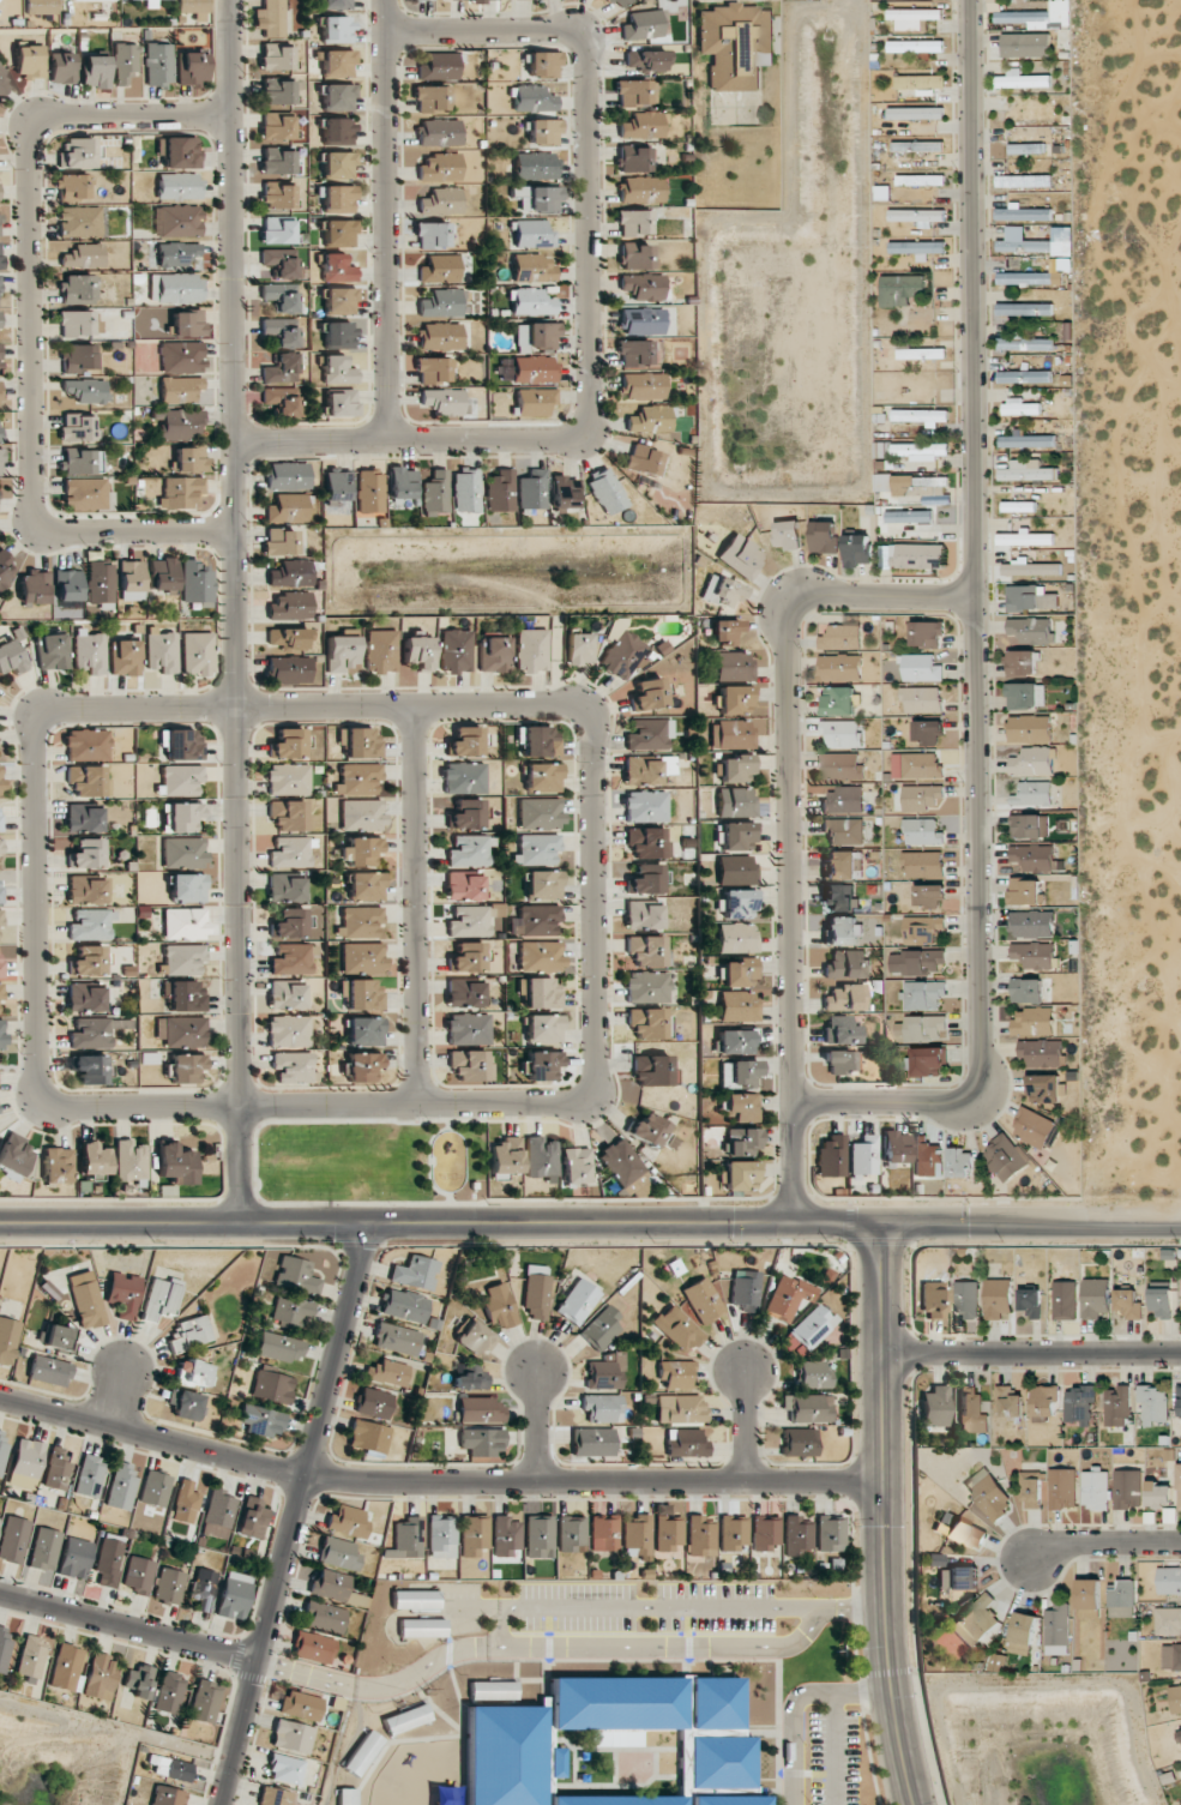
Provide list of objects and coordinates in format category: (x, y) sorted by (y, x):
building: (92, 0)
building: (453, 0)
building: (483, 0)
building: (617, 2)
building: (151, 4)
building: (337, 4)
building: (40, 6)
building: (193, 6)
building: (912, 17)
building: (1040, 17)
building: (270, 18)
building: (643, 25)
building: (337, 30)
road: (487, 31)
building: (736, 44)
building: (1025, 44)
building: (915, 46)
building: (276, 58)
building: (645, 60)
building: (30, 61)
building: (126, 62)
building: (337, 64)
building: (158, 65)
building: (543, 65)
building: (439, 66)
building: (192, 67)
building: (62, 68)
building: (95, 71)
building: (4, 78)
building: (1022, 79)
building: (920, 82)
building: (276, 91)
building: (635, 92)
building: (337, 97)
building: (432, 98)
building: (534, 98)
building: (916, 113)
road: (132, 119)
building: (641, 126)
building: (276, 127)
building: (337, 131)
building: (439, 132)
building: (543, 132)
building: (917, 146)
building: (1026, 148)
building: (179, 151)
building: (77, 154)
building: (635, 158)
building: (277, 162)
building: (338, 166)
building: (535, 166)
building: (439, 167)
building: (920, 180)
building: (1024, 181)
building: (179, 186)
building: (73, 187)
building: (640, 189)
building: (277, 195)
building: (338, 199)
building: (542, 199)
building: (441, 201)
building: (1023, 213)
building: (917, 216)
road: (386, 219)
building: (177, 221)
building: (79, 222)
building: (633, 222)
building: (278, 230)
building: (339, 233)
building: (532, 234)
road: (590, 234)
building: (432, 235)
building: (1036, 241)
building: (918, 248)
building: (179, 254)
building: (83, 255)
building: (0, 257)
building: (637, 257)
building: (532, 267)
building: (337, 269)
building: (440, 269)
building: (1029, 278)
building: (643, 287)
building: (176, 288)
building: (77, 289)
building: (902, 289)
building: (279, 299)
building: (341, 300)
building: (531, 302)
building: (442, 303)
building: (1024, 309)
building: (0, 320)
building: (641, 321)
building: (78, 323)
building: (187, 323)
building: (282, 332)
building: (339, 336)
building: (441, 336)
building: (536, 336)
building: (1025, 344)
building: (0, 351)
building: (634, 353)
building: (921, 354)
building: (78, 357)
building: (182, 357)
building: (281, 368)
building: (433, 369)
building: (534, 369)
building: (338, 371)
building: (1024, 377)
building: (643, 386)
building: (85, 390)
building: (180, 390)
building: (281, 401)
building: (442, 401)
building: (0, 402)
building: (536, 402)
building: (342, 403)
building: (1020, 407)
building: (921, 416)
building: (651, 419)
building: (179, 423)
road: (31, 425)
building: (77, 428)
building: (0, 434)
road: (489, 439)
road: (311, 441)
building: (1028, 441)
building: (189, 458)
building: (643, 459)
building: (1, 462)
building: (78, 462)
building: (1026, 471)
building: (288, 476)
building: (400, 483)
building: (336, 485)
building: (912, 485)
building: (532, 489)
building: (370, 491)
building: (466, 491)
building: (500, 491)
building: (180, 492)
building: (607, 492)
building: (435, 493)
building: (565, 493)
building: (84, 494)
building: (1018, 506)
building: (288, 507)
building: (910, 516)
building: (788, 534)
building: (824, 536)
building: (1025, 539)
building: (279, 541)
building: (857, 549)
building: (740, 555)
building: (918, 555)
building: (5, 567)
building: (1030, 568)
building: (289, 573)
building: (163, 574)
building: (131, 580)
building: (100, 582)
building: (195, 583)
building: (68, 585)
building: (35, 588)
building: (723, 591)
building: (1030, 598)
building: (289, 606)
road: (234, 612)
building: (1031, 630)
building: (725, 631)
building: (927, 633)
building: (842, 637)
building: (287, 638)
road: (975, 638)
building: (579, 648)
building: (531, 650)
building: (52, 651)
building: (380, 651)
building: (417, 651)
building: (456, 651)
building: (90, 652)
building: (162, 652)
building: (197, 654)
building: (493, 655)
building: (622, 655)
building: (11, 657)
building: (125, 657)
building: (1022, 663)
building: (734, 664)
building: (840, 667)
building: (922, 668)
building: (288, 669)
building: (649, 694)
building: (1026, 696)
building: (735, 698)
building: (921, 699)
building: (838, 700)
building: (1030, 728)
building: (927, 730)
building: (842, 733)
building: (649, 734)
building: (731, 734)
building: (465, 741)
building: (540, 741)
building: (358, 742)
building: (287, 744)
building: (86, 745)
building: (182, 745)
building: (1032, 762)
building: (916, 765)
building: (842, 766)
building: (647, 769)
building: (736, 769)
building: (464, 777)
building: (542, 777)
building: (289, 778)
building: (358, 778)
building: (1, 780)
building: (181, 780)
building: (88, 781)
building: (1032, 794)
building: (921, 796)
building: (843, 800)
building: (735, 801)
building: (645, 806)
building: (540, 813)
building: (361, 814)
building: (466, 814)
building: (290, 816)
building: (183, 817)
road: (595, 817)
road: (36, 818)
building: (83, 818)
road: (793, 823)
building: (1029, 826)
building: (844, 830)
building: (923, 831)
building: (735, 835)
building: (646, 842)
building: (0, 846)
building: (536, 849)
building: (360, 850)
building: (470, 852)
building: (183, 853)
building: (290, 853)
building: (86, 854)
building: (1034, 856)
building: (923, 864)
building: (843, 865)
building: (735, 870)
building: (645, 879)
building: (543, 884)
building: (366, 886)
building: (463, 886)
building: (187, 888)
building: (0, 890)
building: (88, 891)
building: (1025, 891)
building: (930, 896)
building: (838, 897)
building: (737, 903)
road: (416, 904)
building: (641, 916)
building: (1, 919)
building: (471, 921)
building: (536, 921)
building: (360, 922)
building: (185, 923)
building: (289, 923)
building: (1031, 923)
building: (90, 925)
building: (922, 928)
building: (842, 931)
building: (735, 937)
building: (647, 951)
building: (1035, 955)
building: (541, 956)
building: (363, 958)
building: (466, 958)
building: (182, 959)
building: (291, 959)
building: (88, 961)
building: (916, 962)
building: (846, 964)
building: (1, 967)
building: (739, 973)
building: (646, 987)
building: (1, 991)
building: (1026, 991)
building: (361, 993)
building: (463, 993)
building: (541, 993)
building: (287, 994)
building: (923, 994)
building: (182, 995)
building: (84, 998)
building: (845, 998)
building: (737, 1006)
building: (1034, 1022)
building: (649, 1023)
building: (923, 1028)
building: (468, 1029)
building: (544, 1029)
building: (181, 1030)
building: (289, 1030)
building: (366, 1030)
building: (840, 1030)
building: (95, 1031)
building: (2, 1034)
building: (734, 1041)
building: (1042, 1053)
building: (840, 1061)
building: (928, 1061)
building: (542, 1065)
building: (363, 1066)
building: (470, 1066)
building: (186, 1067)
building: (294, 1067)
building: (89, 1069)
building: (653, 1071)
building: (739, 1073)
building: (1044, 1088)
road: (414, 1102)
building: (742, 1106)
building: (1036, 1129)
building: (652, 1132)
building: (741, 1142)
building: (894, 1147)
building: (13, 1154)
building: (863, 1155)
building: (506, 1156)
building: (831, 1156)
building: (541, 1157)
building: (927, 1157)
building: (1005, 1157)
building: (92, 1160)
building: (129, 1161)
park: (370, 1162)
building: (959, 1162)
building: (175, 1165)
building: (622, 1165)
building: (56, 1166)
building: (577, 1166)
road: (590, 1226)
building: (415, 1272)
building: (296, 1276)
building: (745, 1289)
building: (536, 1290)
building: (123, 1294)
building: (161, 1298)
building: (787, 1298)
building: (1095, 1298)
building: (966, 1299)
building: (998, 1299)
building: (86, 1300)
building: (703, 1300)
building: (934, 1300)
building: (1065, 1300)
building: (1031, 1301)
building: (577, 1302)
building: (1161, 1302)
building: (1128, 1304)
building: (404, 1305)
building: (498, 1306)
building: (290, 1311)
building: (811, 1328)
building: (601, 1329)
building: (679, 1329)
building: (189, 1334)
building: (59, 1337)
building: (475, 1337)
building: (396, 1338)
building: (7, 1340)
building: (281, 1347)
road: (1029, 1358)
building: (49, 1371)
building: (607, 1372)
building: (193, 1373)
building: (390, 1373)
building: (676, 1374)
building: (813, 1374)
building: (471, 1378)
building: (272, 1386)
road: (119, 1394)
building: (1180, 1400)
building: (1008, 1402)
building: (1044, 1402)
building: (374, 1403)
building: (185, 1404)
building: (1079, 1404)
building: (1153, 1404)
building: (934, 1407)
building: (1116, 1407)
building: (603, 1408)
building: (680, 1408)
building: (808, 1408)
building: (480, 1409)
building: (971, 1412)
building: (261, 1420)
road: (535, 1427)
road: (743, 1427)
building: (368, 1436)
building: (481, 1440)
building: (592, 1442)
building: (800, 1442)
building: (685, 1443)
building: (2, 1450)
building: (25, 1463)
building: (56, 1469)
building: (89, 1475)
building: (121, 1485)
road: (433, 1485)
building: (1179, 1486)
building: (155, 1488)
building: (1062, 1488)
building: (1128, 1488)
building: (1034, 1490)
building: (1095, 1490)
building: (1159, 1493)
building: (992, 1498)
building: (185, 1503)
building: (218, 1514)
building: (252, 1514)
road: (293, 1514)
road: (878, 1517)
building: (348, 1521)
building: (667, 1529)
building: (604, 1533)
building: (733, 1533)
building: (765, 1533)
building: (965, 1533)
building: (830, 1534)
building: (474, 1535)
building: (506, 1535)
building: (637, 1535)
building: (441, 1536)
building: (540, 1536)
building: (700, 1536)
building: (797, 1536)
building: (13, 1539)
building: (405, 1539)
road: (1102, 1547)
building: (44, 1550)
building: (338, 1553)
building: (74, 1558)
building: (108, 1564)
building: (138, 1575)
building: (958, 1578)
building: (1169, 1581)
building: (169, 1586)
building: (203, 1589)
building: (234, 1595)
building: (1089, 1595)
building: (1121, 1599)
building: (415, 1600)
road: (640, 1607)
building: (324, 1617)
building: (1168, 1620)
building: (975, 1622)
building: (422, 1627)
road: (127, 1629)
building: (1058, 1630)
building: (1023, 1633)
building: (4, 1645)
building: (313, 1647)
road: (572, 1648)
building: (1171, 1657)
building: (31, 1659)
building: (67, 1668)
building: (100, 1677)
building: (139, 1681)
building: (493, 1690)
building: (169, 1692)
building: (1175, 1698)
building: (204, 1702)
building: (615, 1703)
building: (715, 1703)
building: (301, 1705)
road: (794, 1707)
building: (406, 1719)
building: (291, 1737)
building: (1179, 1737)
park: (1035, 1738)
road: (837, 1749)
building: (362, 1753)
building: (712, 1753)
building: (508, 1755)
building: (170, 1768)
building: (285, 1769)
building: (168, 1795)
building: (275, 1797)
building: (347, 1797)
building: (616, 1800)
building: (727, 1800)

